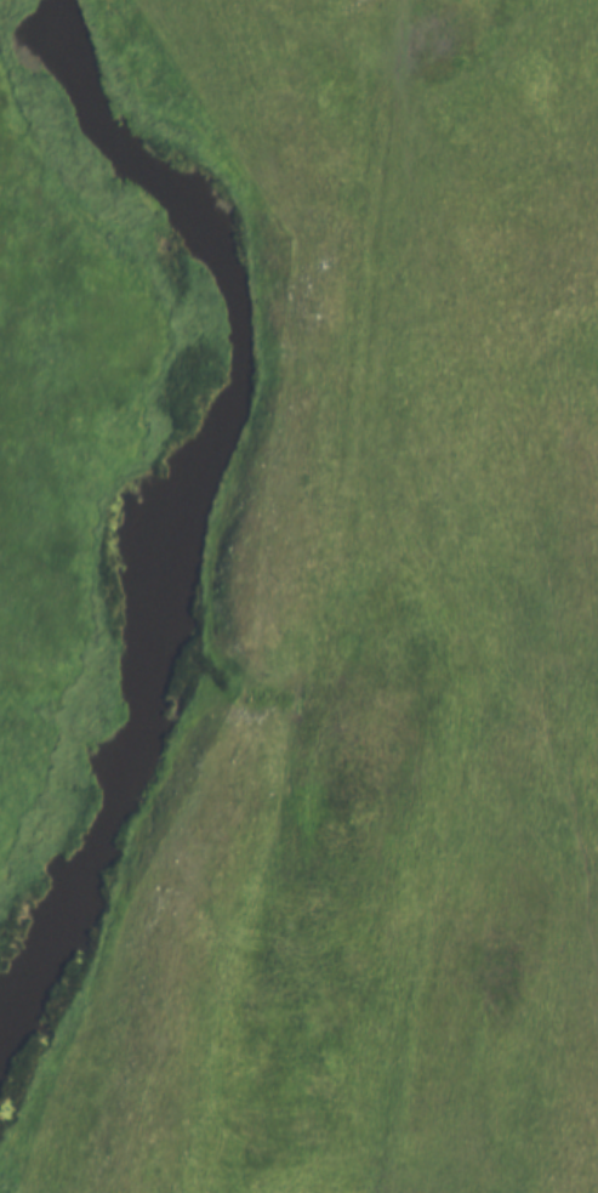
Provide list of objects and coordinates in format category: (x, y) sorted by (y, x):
river: (171, 487)

